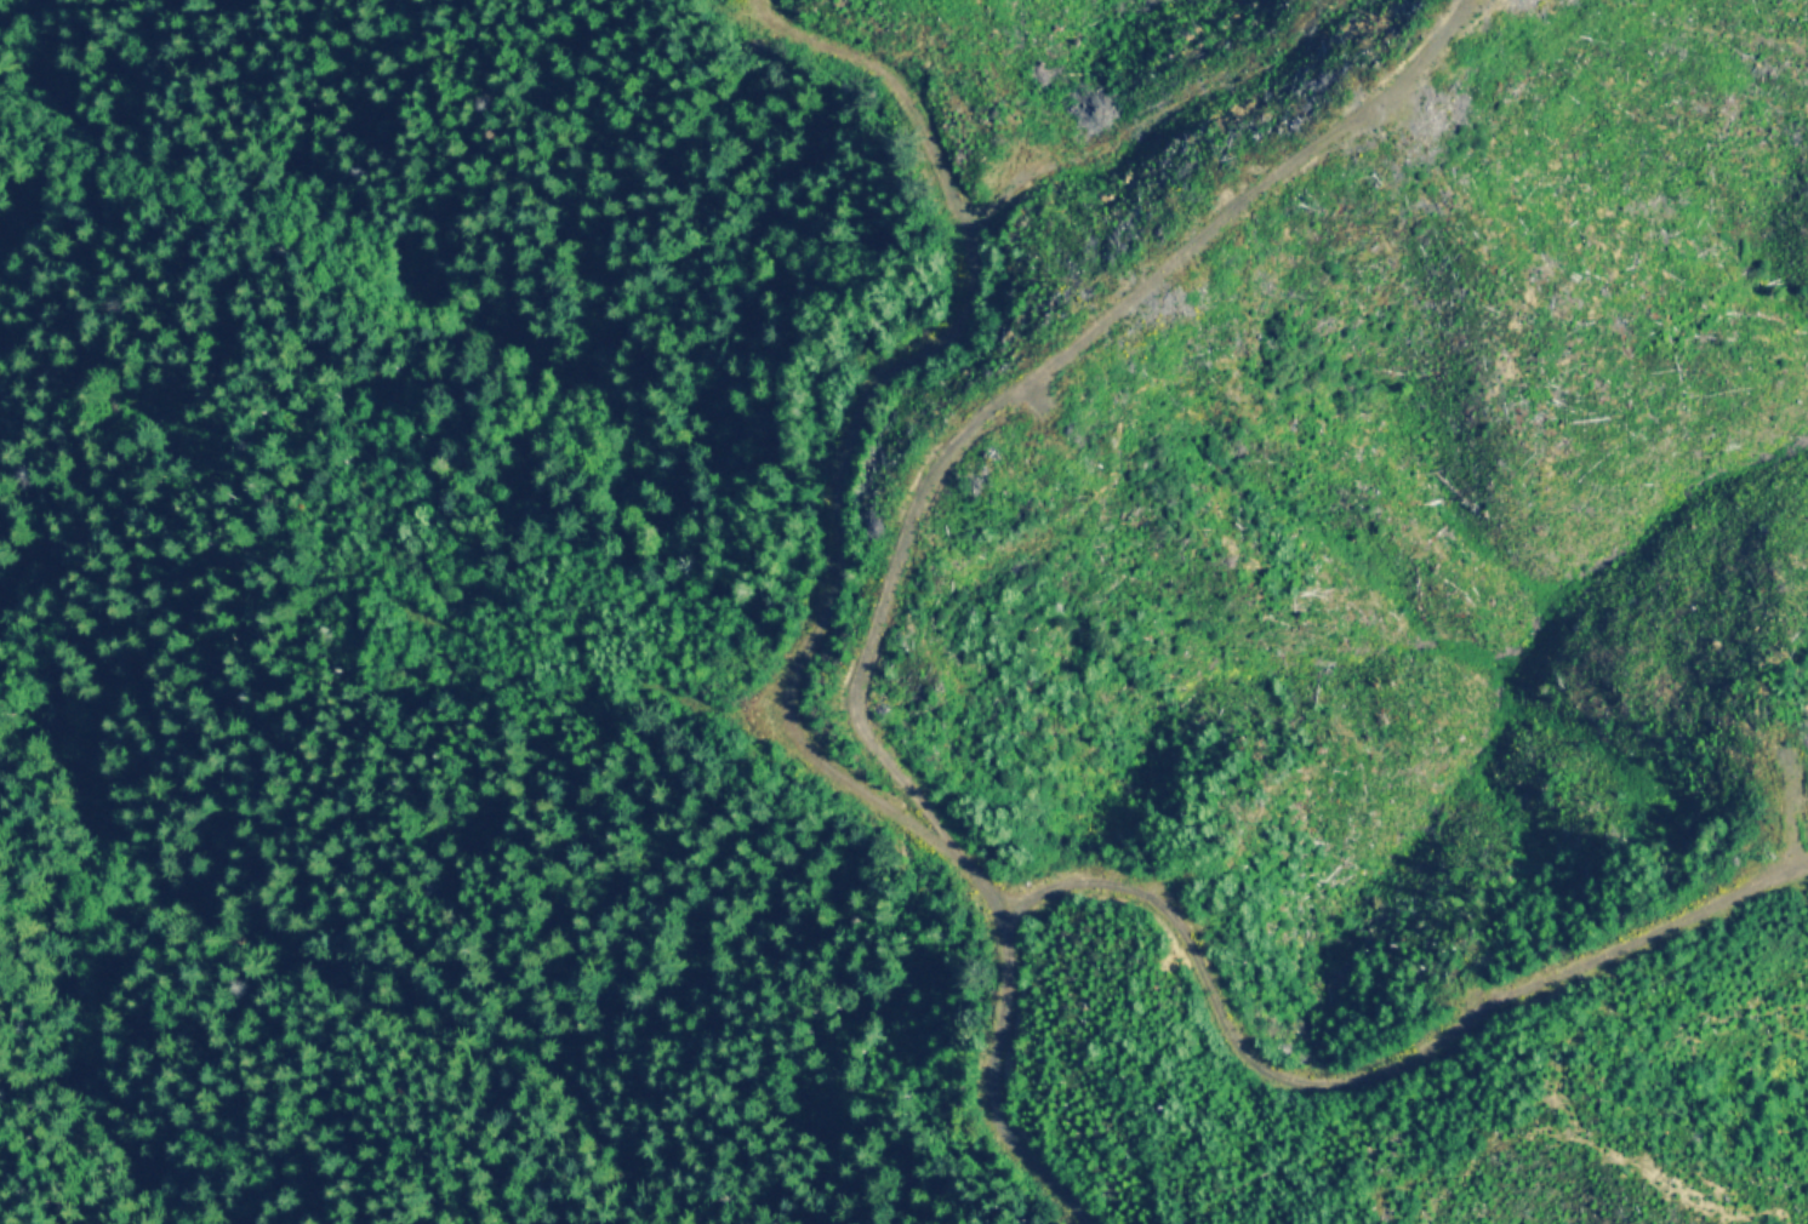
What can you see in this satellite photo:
road: (874, 393)
road: (979, 1043)
road: (1361, 1071)

